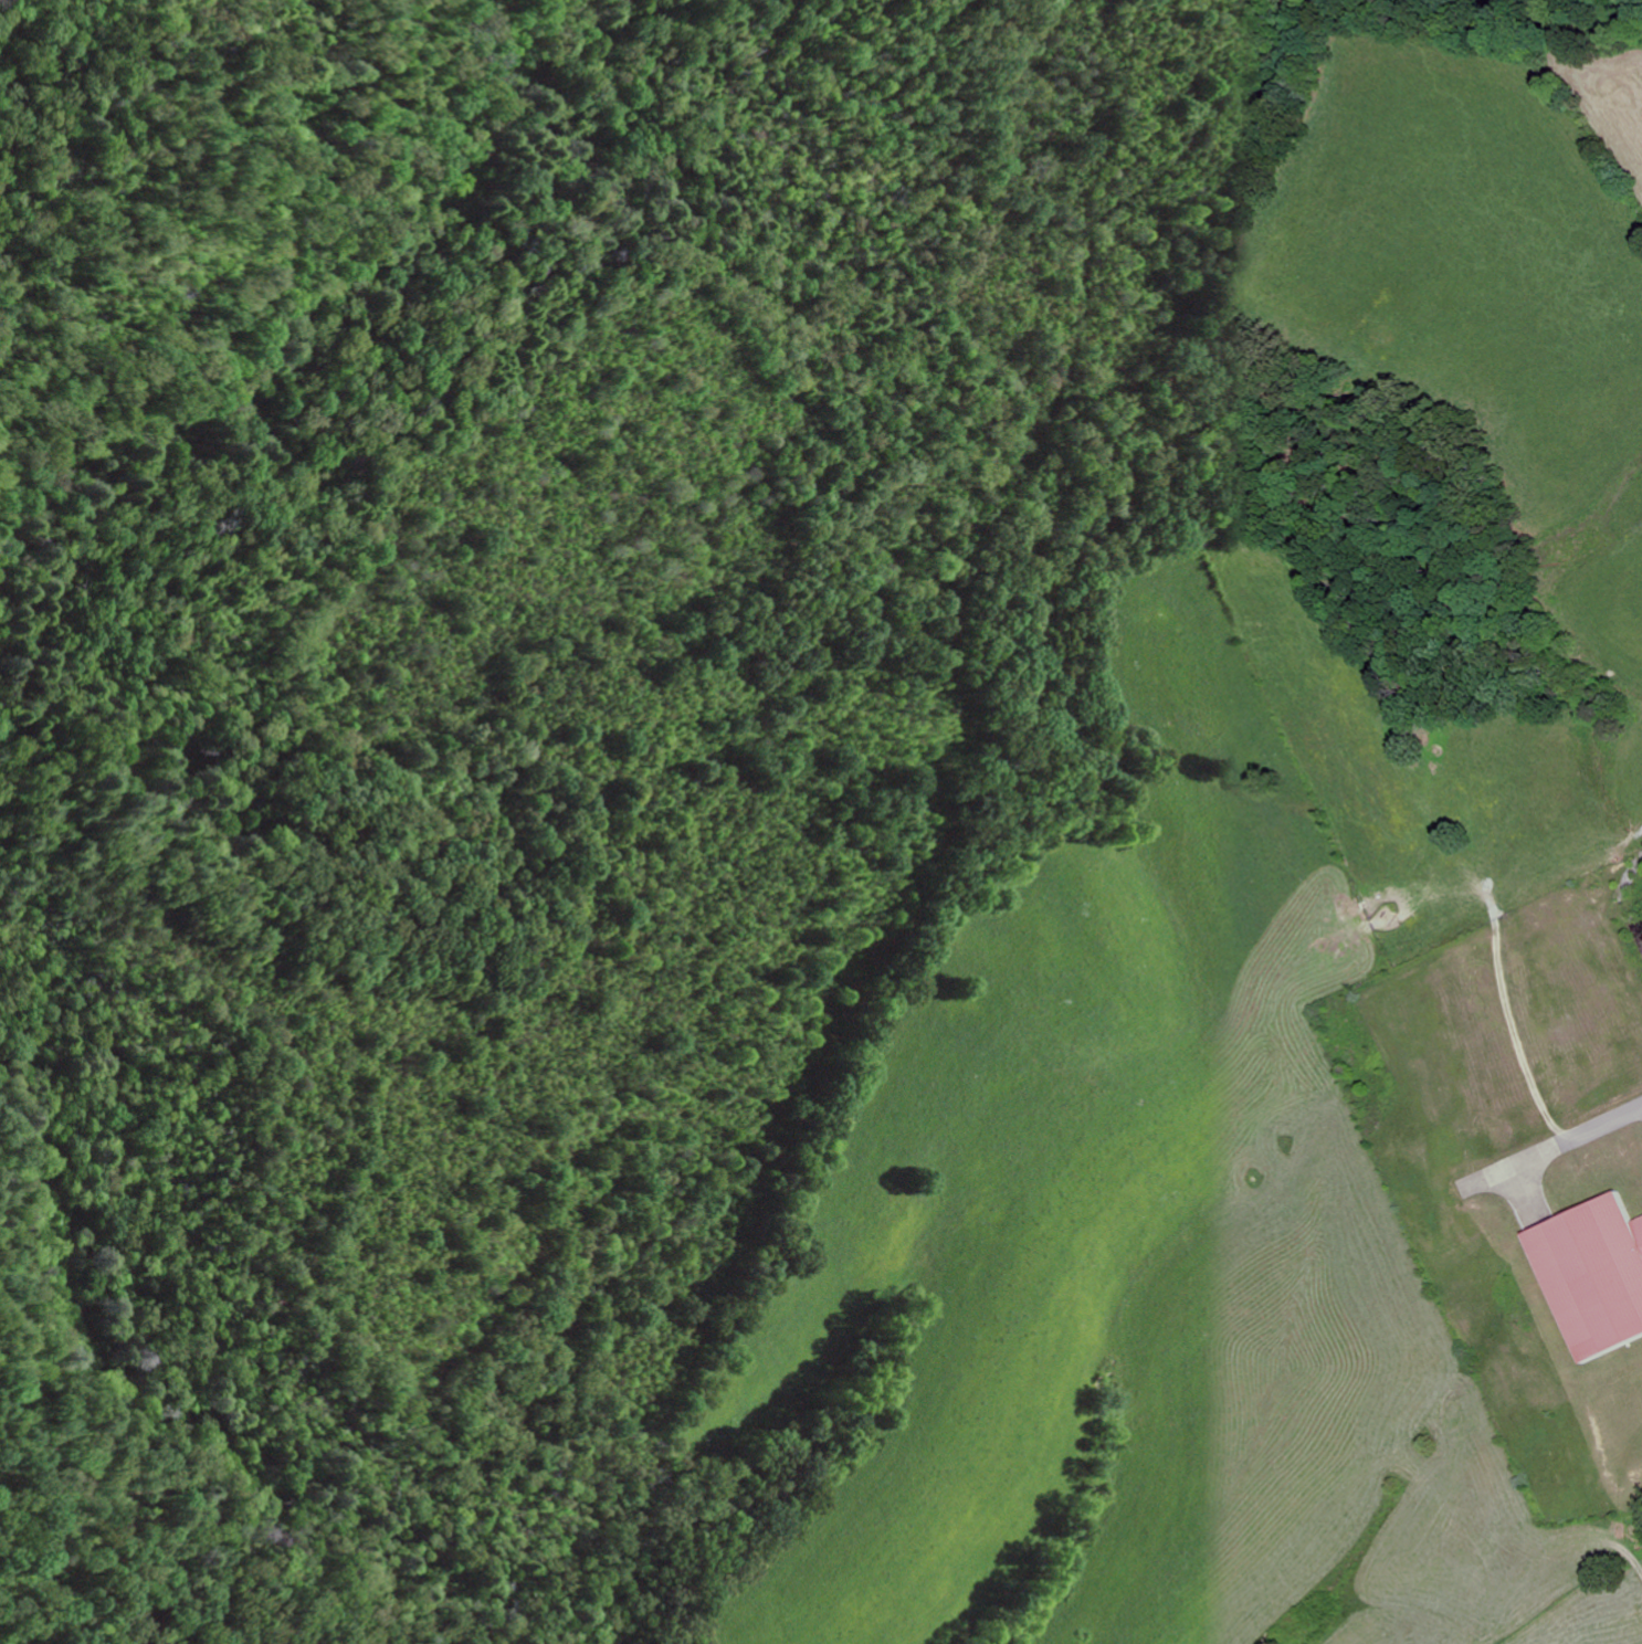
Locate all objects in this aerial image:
road: (1550, 1150)
building: (1593, 1274)

